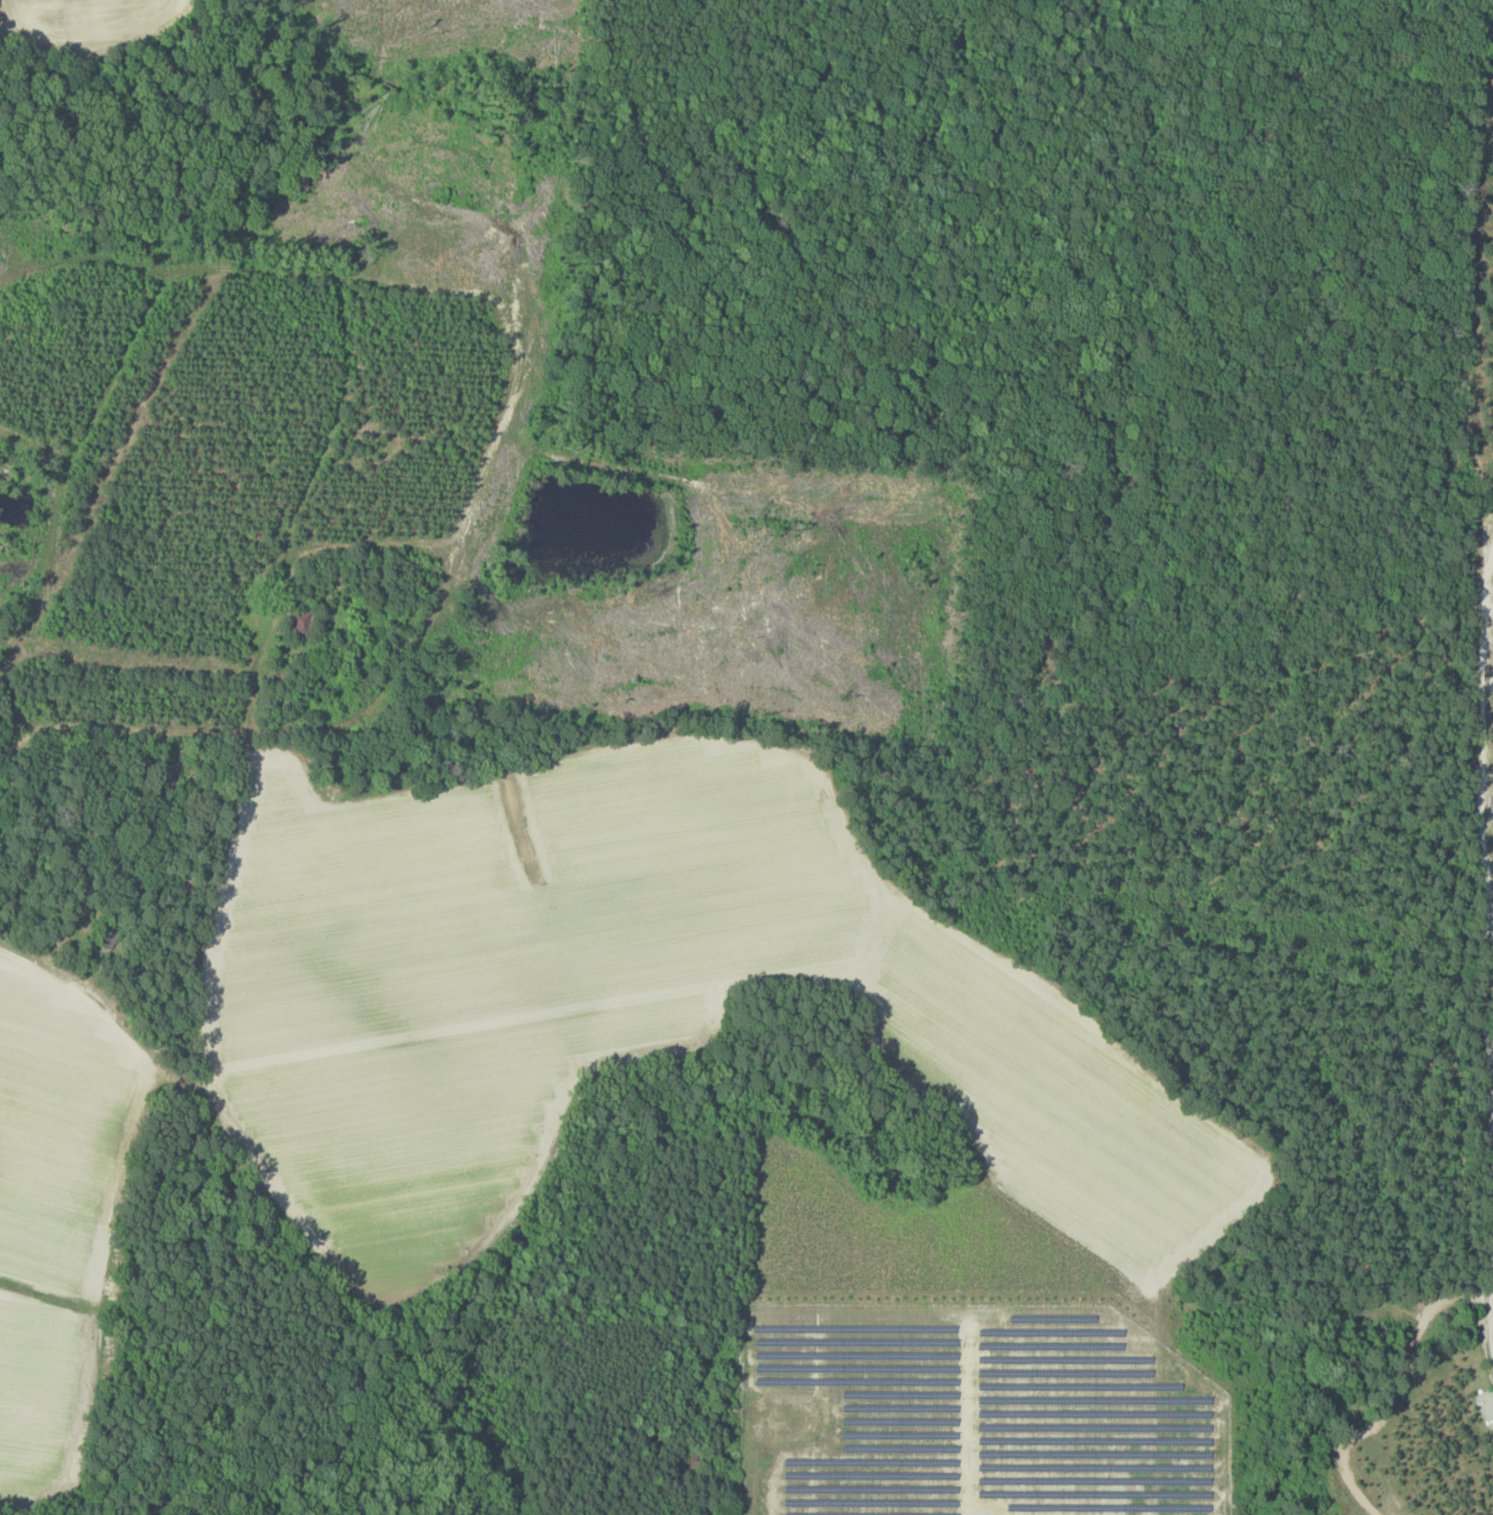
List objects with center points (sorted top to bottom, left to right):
building: (1492, 803)
road: (1491, 1112)

